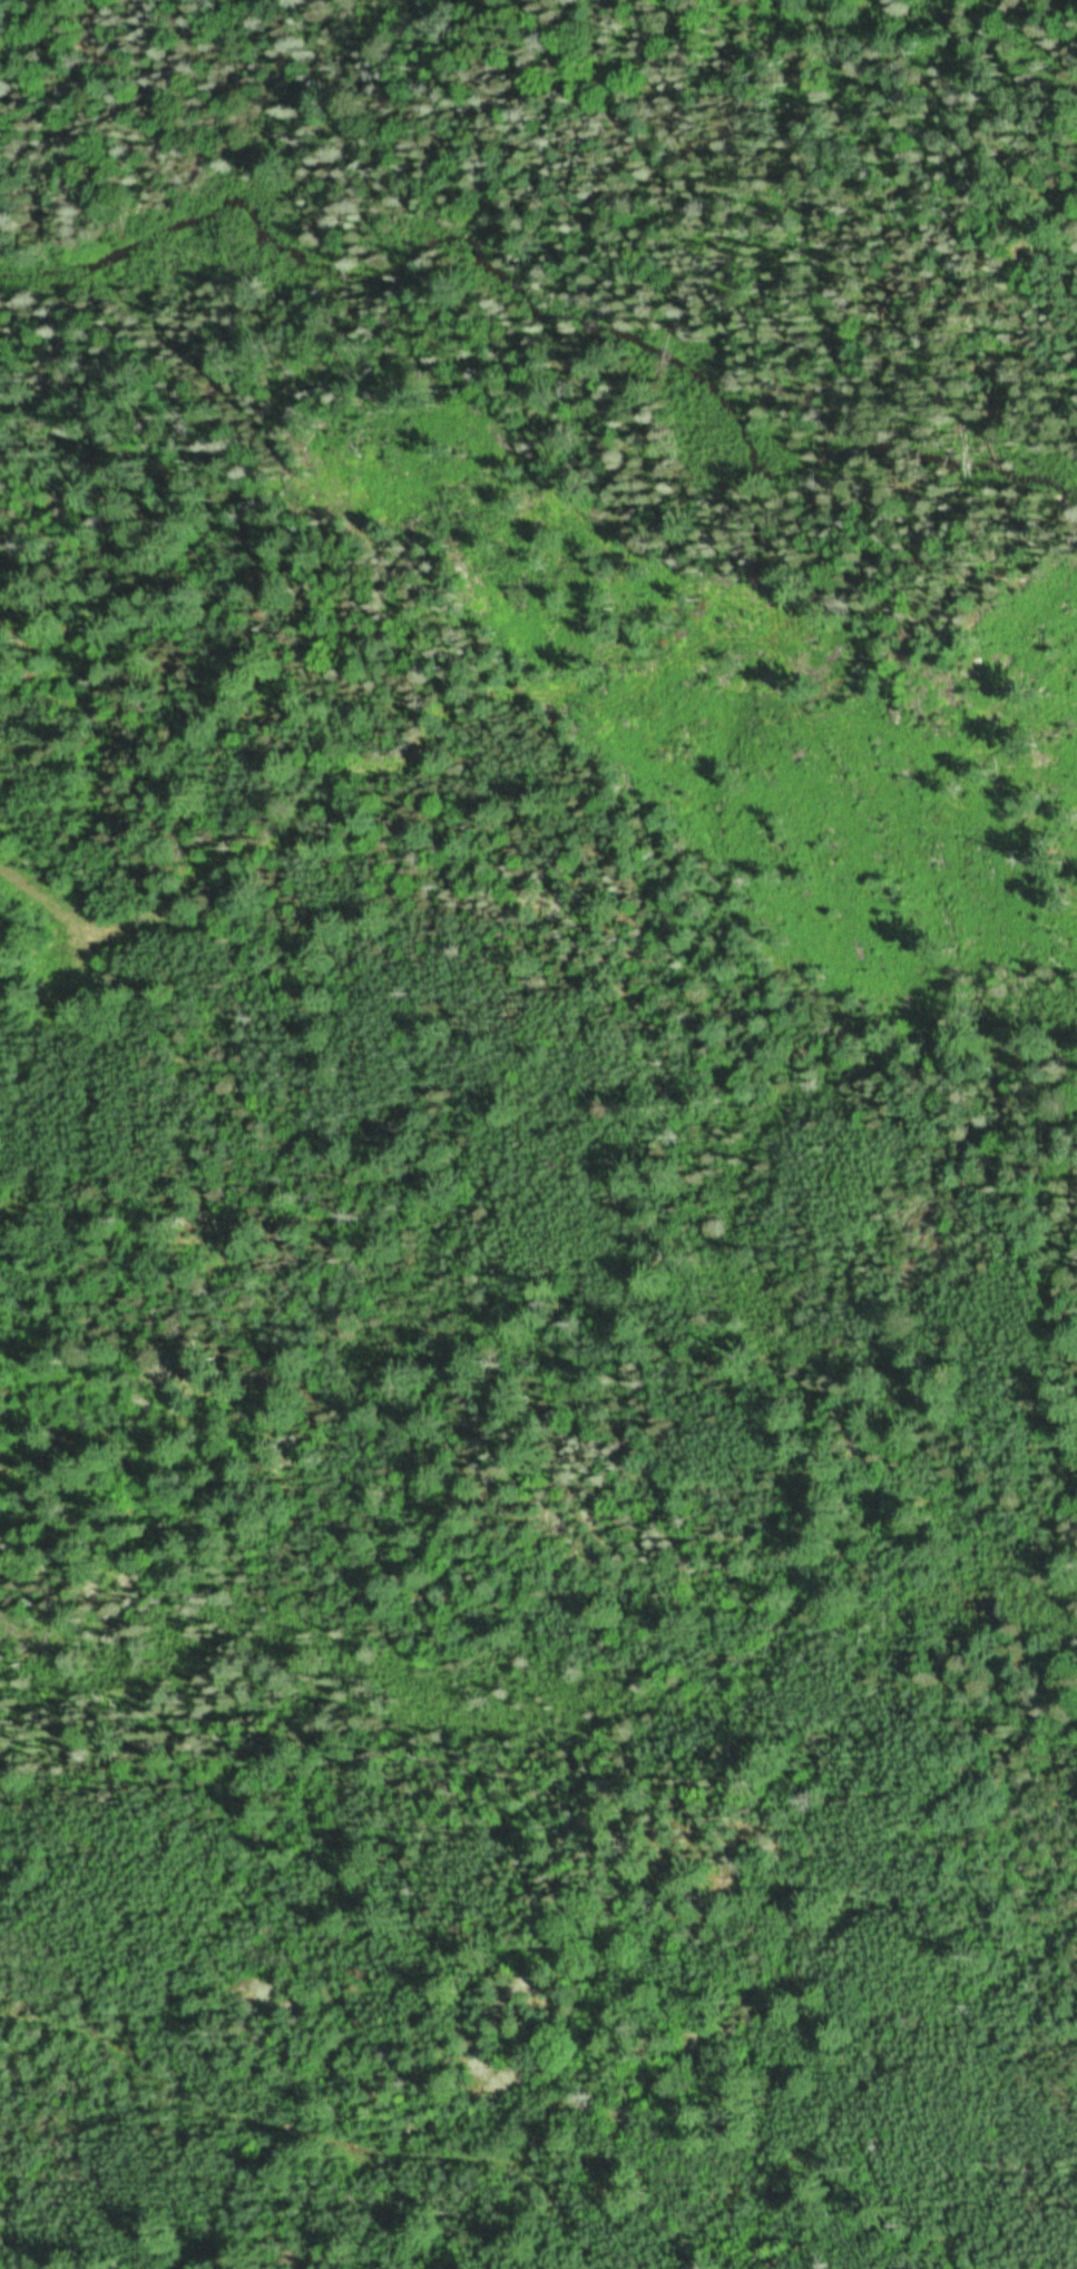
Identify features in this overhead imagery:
road: (314, 2129)

